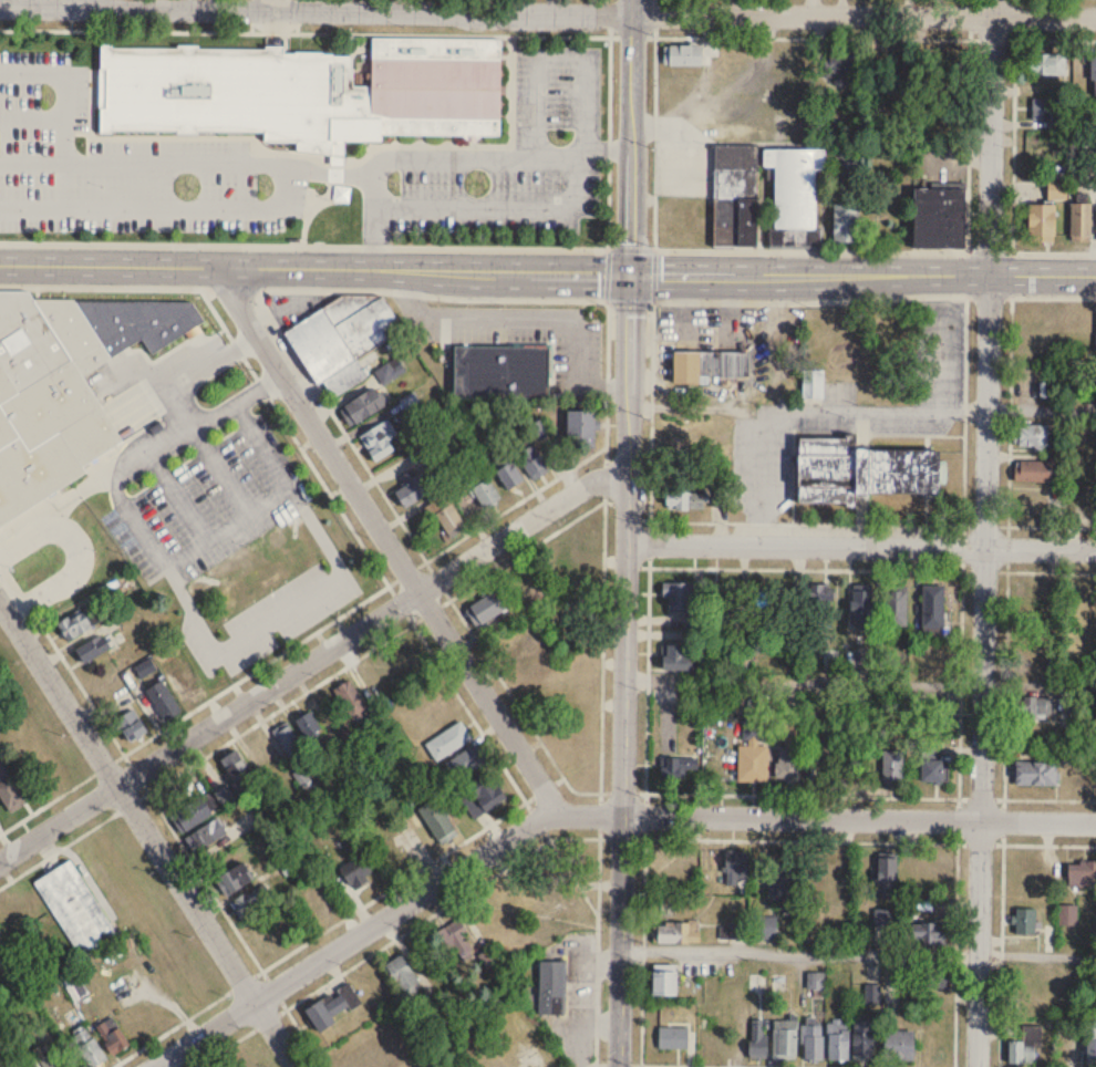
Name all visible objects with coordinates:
road: (273, 4)
road: (547, 12)
road: (655, 18)
road: (970, 19)
road: (548, 34)
road: (555, 54)
building: (682, 56)
building: (1046, 65)
building: (835, 74)
building: (1093, 76)
road: (64, 87)
building: (303, 93)
building: (1047, 111)
road: (631, 136)
road: (969, 164)
building: (847, 166)
road: (1012, 167)
road: (318, 172)
building: (1056, 190)
building: (764, 197)
road: (162, 206)
road: (498, 206)
building: (939, 220)
road: (372, 222)
building: (1081, 224)
building: (846, 225)
building: (1041, 225)
road: (314, 270)
road: (862, 273)
road: (966, 296)
road: (700, 300)
road: (478, 317)
building: (149, 324)
building: (344, 339)
building: (709, 365)
building: (502, 372)
building: (813, 384)
building: (46, 400)
building: (361, 406)
road: (178, 407)
road: (699, 407)
road: (809, 408)
road: (1041, 408)
building: (580, 427)
building: (540, 428)
building: (1031, 435)
building: (379, 439)
building: (424, 454)
road: (308, 459)
building: (533, 462)
road: (220, 466)
road: (111, 469)
road: (604, 470)
building: (860, 470)
building: (1033, 470)
building: (413, 490)
road: (177, 494)
building: (486, 494)
building: (684, 499)
building: (1090, 507)
building: (446, 515)
road: (1052, 525)
road: (215, 532)
road: (985, 533)
road: (386, 539)
road: (861, 547)
building: (571, 548)
road: (73, 557)
road: (319, 557)
road: (694, 564)
road: (152, 573)
building: (680, 595)
building: (820, 601)
building: (861, 604)
building: (933, 607)
building: (895, 608)
building: (483, 610)
building: (239, 620)
building: (74, 624)
building: (92, 649)
road: (62, 655)
building: (675, 657)
road: (960, 659)
road: (311, 660)
road: (1004, 660)
building: (933, 664)
road: (624, 670)
road: (648, 677)
building: (184, 684)
building: (350, 700)
building: (163, 701)
building: (1032, 708)
building: (938, 713)
building: (309, 725)
building: (131, 726)
building: (448, 742)
building: (291, 745)
building: (753, 750)
building: (789, 752)
building: (267, 754)
building: (465, 763)
building: (235, 766)
building: (675, 767)
building: (893, 768)
building: (932, 769)
building: (865, 771)
building: (1036, 773)
building: (9, 790)
building: (483, 797)
road: (1026, 797)
building: (203, 807)
road: (515, 807)
road: (858, 817)
building: (435, 821)
road: (147, 833)
road: (691, 837)
building: (674, 863)
building: (736, 866)
building: (356, 871)
building: (1082, 874)
building: (886, 878)
building: (234, 879)
building: (834, 879)
building: (782, 882)
building: (251, 901)
road: (224, 909)
building: (76, 910)
road: (381, 919)
building: (1026, 922)
road: (598, 925)
building: (883, 928)
building: (748, 930)
road: (955, 931)
building: (678, 932)
road: (1001, 932)
building: (926, 934)
building: (457, 939)
road: (797, 955)
road: (1035, 955)
building: (402, 975)
building: (934, 981)
building: (663, 984)
building: (551, 988)
building: (333, 1007)
building: (527, 1024)
building: (112, 1037)
building: (673, 1038)
building: (838, 1039)
building: (758, 1040)
building: (784, 1040)
building: (862, 1040)
building: (813, 1043)
building: (1089, 1044)
building: (900, 1045)
building: (1026, 1047)
building: (87, 1049)
building: (528, 1058)
building: (49, 1060)
building: (369, 1063)
road: (589, 1063)
road: (640, 1065)
road: (735, 1065)

